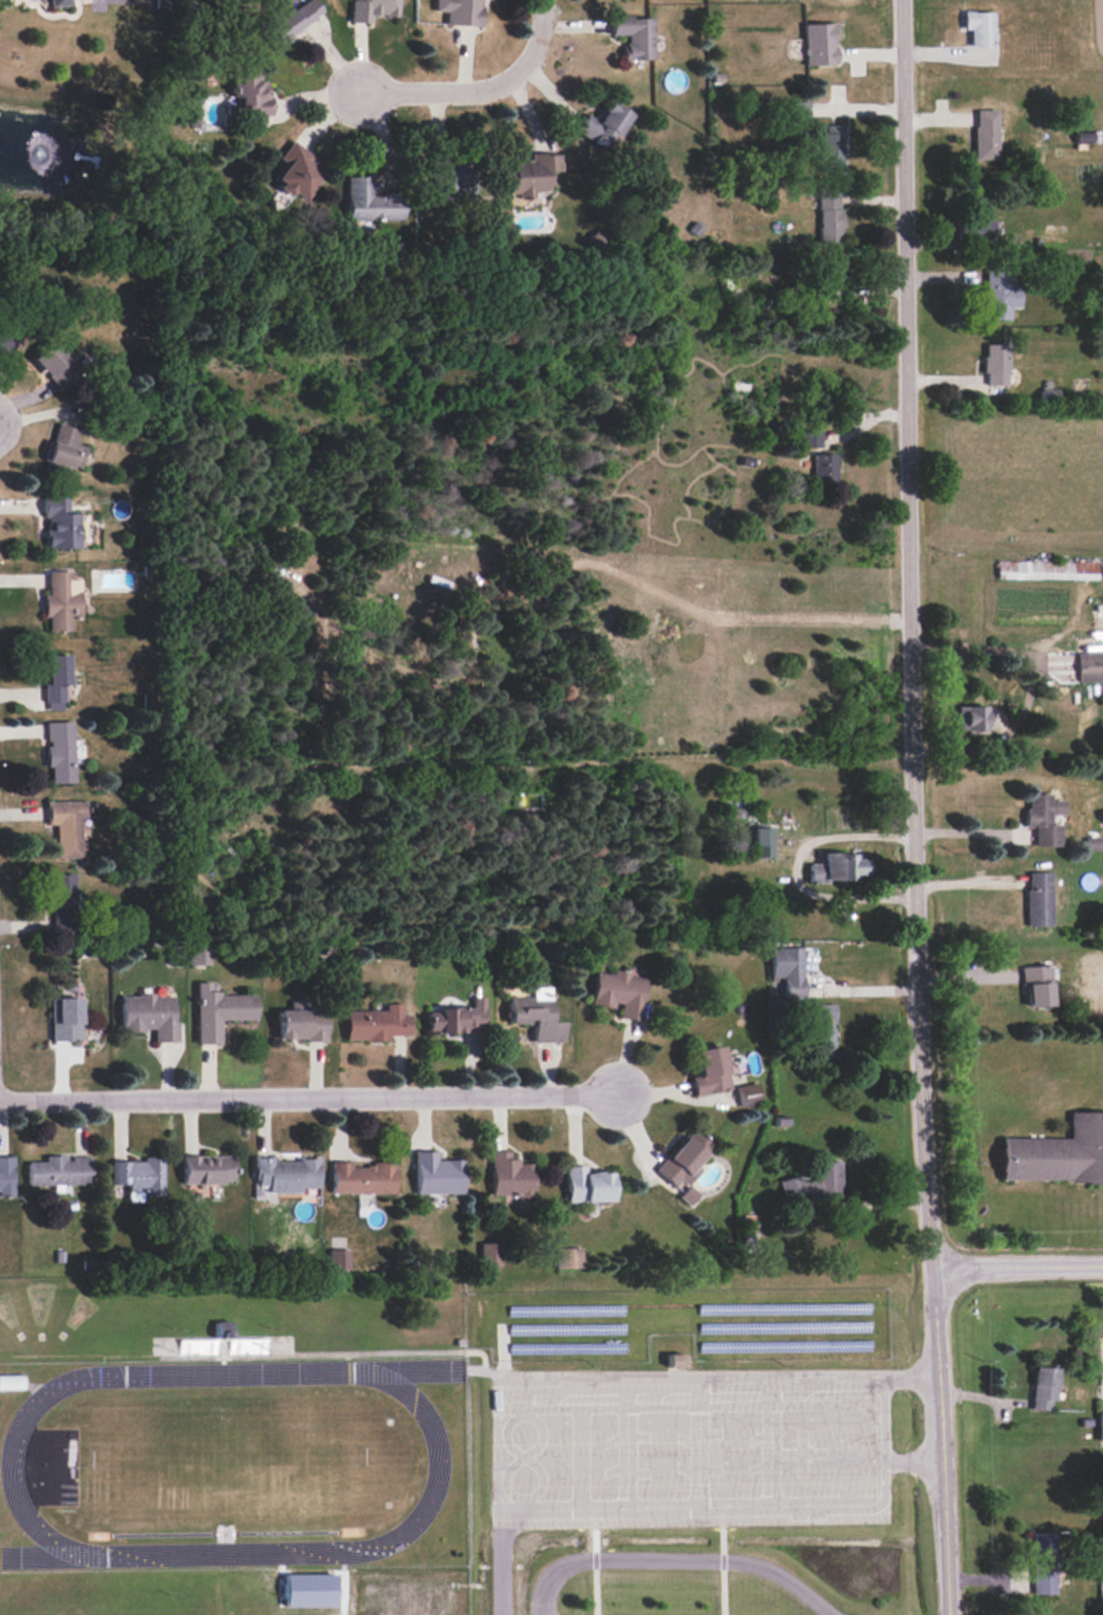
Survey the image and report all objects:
building: (57, 2)
building: (372, 9)
building: (460, 11)
building: (292, 20)
building: (979, 27)
building: (634, 35)
building: (818, 44)
road: (480, 88)
building: (249, 99)
building: (798, 111)
building: (604, 125)
building: (986, 134)
building: (1087, 137)
building: (831, 147)
building: (297, 171)
building: (531, 174)
building: (445, 176)
building: (371, 201)
building: (829, 214)
building: (983, 231)
building: (832, 274)
building: (1000, 294)
building: (4, 342)
building: (55, 363)
building: (996, 363)
building: (810, 437)
building: (65, 448)
building: (825, 467)
building: (60, 522)
building: (1046, 569)
building: (62, 600)
building: (1089, 666)
building: (55, 680)
road: (1027, 688)
building: (971, 717)
building: (60, 751)
road: (914, 807)
building: (1043, 818)
building: (66, 825)
road: (971, 833)
building: (763, 841)
building: (1093, 843)
building: (836, 867)
building: (1038, 898)
building: (61, 902)
building: (198, 954)
building: (789, 970)
building: (1037, 985)
building: (620, 993)
building: (219, 1011)
building: (149, 1015)
building: (535, 1015)
building: (457, 1018)
building: (65, 1019)
building: (375, 1023)
building: (300, 1024)
building: (823, 1030)
building: (710, 1071)
building: (748, 1094)
road: (318, 1096)
building: (1057, 1154)
building: (684, 1158)
building: (207, 1169)
building: (58, 1171)
building: (437, 1173)
building: (138, 1175)
building: (284, 1175)
building: (510, 1175)
building: (5, 1176)
building: (361, 1178)
building: (814, 1182)
building: (587, 1185)
building: (689, 1194)
building: (489, 1254)
building: (569, 1257)
building: (338, 1259)
road: (1018, 1265)
road: (912, 1376)
building: (11, 1381)
building: (1044, 1388)
road: (882, 1396)
road: (499, 1400)
building: (1101, 1426)
road: (883, 1439)
road: (915, 1460)
track: (227, 1464)
road: (500, 1504)
road: (678, 1562)
building: (1045, 1563)

